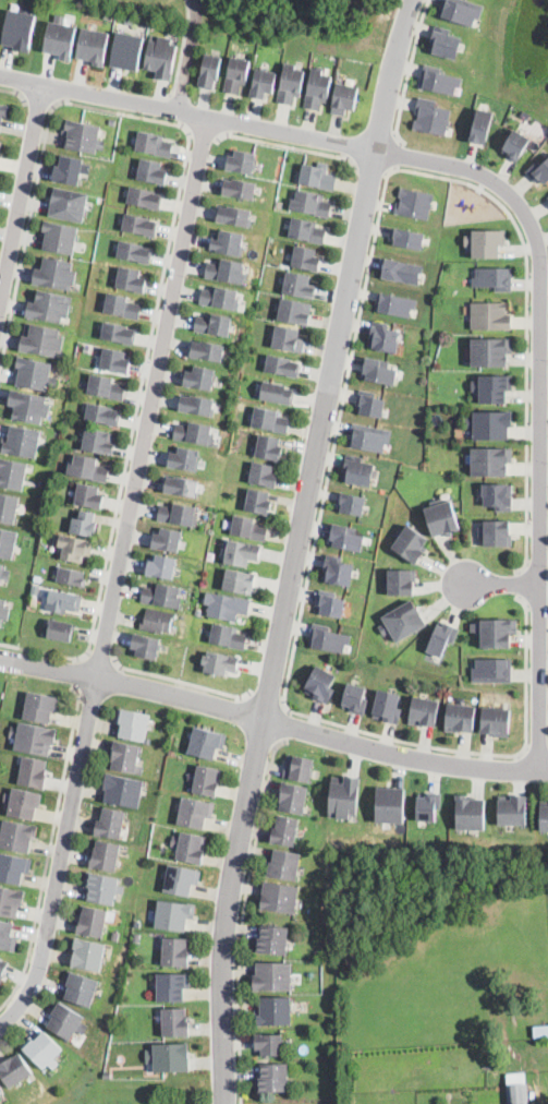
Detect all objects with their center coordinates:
building: (461, 11)
building: (20, 29)
building: (61, 38)
building: (445, 43)
building: (94, 47)
building: (127, 51)
road: (181, 53)
building: (161, 56)
road: (188, 56)
building: (209, 70)
road: (410, 72)
road: (392, 74)
building: (236, 75)
building: (439, 80)
building: (263, 84)
building: (291, 84)
building: (317, 89)
road: (16, 93)
building: (345, 99)
road: (39, 104)
building: (3, 113)
road: (187, 113)
building: (430, 116)
building: (112, 123)
building: (482, 125)
road: (204, 134)
building: (84, 137)
building: (515, 144)
building: (0, 145)
building: (153, 145)
road: (290, 147)
road: (398, 153)
building: (241, 161)
building: (71, 169)
building: (539, 170)
road: (372, 171)
building: (151, 172)
building: (317, 177)
building: (239, 189)
road: (22, 197)
building: (144, 199)
building: (414, 202)
building: (69, 203)
building: (310, 205)
building: (234, 216)
building: (139, 226)
building: (306, 231)
road: (171, 233)
building: (60, 236)
building: (407, 237)
building: (486, 241)
building: (228, 243)
building: (134, 252)
building: (305, 260)
building: (401, 271)
building: (227, 272)
building: (56, 273)
building: (494, 277)
building: (130, 280)
building: (299, 286)
building: (220, 298)
building: (395, 303)
building: (49, 305)
building: (121, 307)
building: (294, 312)
building: (489, 314)
building: (214, 324)
building: (119, 334)
road: (528, 334)
building: (383, 336)
building: (41, 338)
building: (288, 339)
building: (86, 348)
building: (207, 349)
building: (490, 350)
building: (114, 361)
building: (282, 367)
building: (379, 370)
building: (35, 373)
building: (199, 379)
building: (492, 387)
building: (105, 388)
building: (276, 392)
building: (369, 404)
building: (28, 406)
building: (197, 406)
building: (242, 406)
road: (541, 407)
building: (102, 415)
building: (270, 420)
building: (490, 423)
building: (194, 433)
building: (369, 436)
building: (98, 442)
building: (22, 443)
building: (268, 448)
building: (183, 459)
building: (489, 460)
building: (87, 469)
building: (357, 470)
building: (12, 472)
building: (263, 475)
building: (181, 487)
building: (497, 495)
building: (88, 496)
building: (257, 502)
building: (351, 503)
building: (8, 507)
building: (178, 514)
building: (442, 518)
building: (84, 525)
building: (247, 529)
building: (497, 532)
building: (345, 537)
building: (167, 541)
building: (8, 542)
building: (412, 543)
building: (75, 549)
building: (240, 553)
building: (161, 567)
building: (4, 571)
building: (338, 571)
building: (38, 577)
building: (71, 577)
road: (118, 577)
building: (402, 580)
building: (239, 581)
road: (522, 585)
road: (504, 586)
building: (161, 597)
building: (63, 601)
building: (331, 603)
building: (226, 605)
building: (3, 610)
building: (157, 621)
building: (403, 621)
road: (284, 625)
building: (60, 631)
building: (495, 631)
road: (297, 632)
building: (228, 637)
building: (442, 638)
building: (331, 639)
building: (144, 646)
road: (99, 660)
building: (220, 663)
building: (491, 669)
road: (76, 674)
road: (181, 683)
building: (320, 683)
building: (354, 696)
road: (267, 698)
building: (388, 706)
building: (40, 707)
building: (424, 710)
building: (460, 717)
building: (496, 721)
road: (272, 722)
building: (132, 724)
road: (284, 724)
building: (34, 740)
building: (205, 743)
building: (126, 758)
building: (300, 769)
building: (34, 773)
building: (207, 781)
building: (123, 791)
building: (344, 797)
building: (293, 799)
building: (23, 803)
building: (390, 804)
building: (428, 805)
building: (512, 809)
building: (195, 812)
building: (470, 812)
building: (544, 817)
building: (110, 824)
building: (284, 831)
building: (17, 836)
building: (190, 848)
road: (50, 849)
building: (105, 856)
building: (284, 865)
building: (13, 868)
building: (181, 880)
building: (102, 888)
building: (279, 898)
building: (10, 901)
building: (173, 915)
road: (243, 916)
building: (92, 922)
building: (115, 934)
building: (7, 936)
building: (137, 938)
building: (272, 940)
building: (174, 951)
building: (88, 955)
building: (318, 955)
building: (3, 969)
building: (272, 977)
building: (172, 987)
building: (81, 989)
building: (275, 1012)
building: (66, 1022)
building: (175, 1022)
building: (540, 1030)
building: (269, 1045)
building: (42, 1051)
building: (169, 1058)
building: (14, 1070)
building: (107, 1073)
building: (515, 1076)
building: (272, 1078)
building: (516, 1092)
building: (162, 1101)

